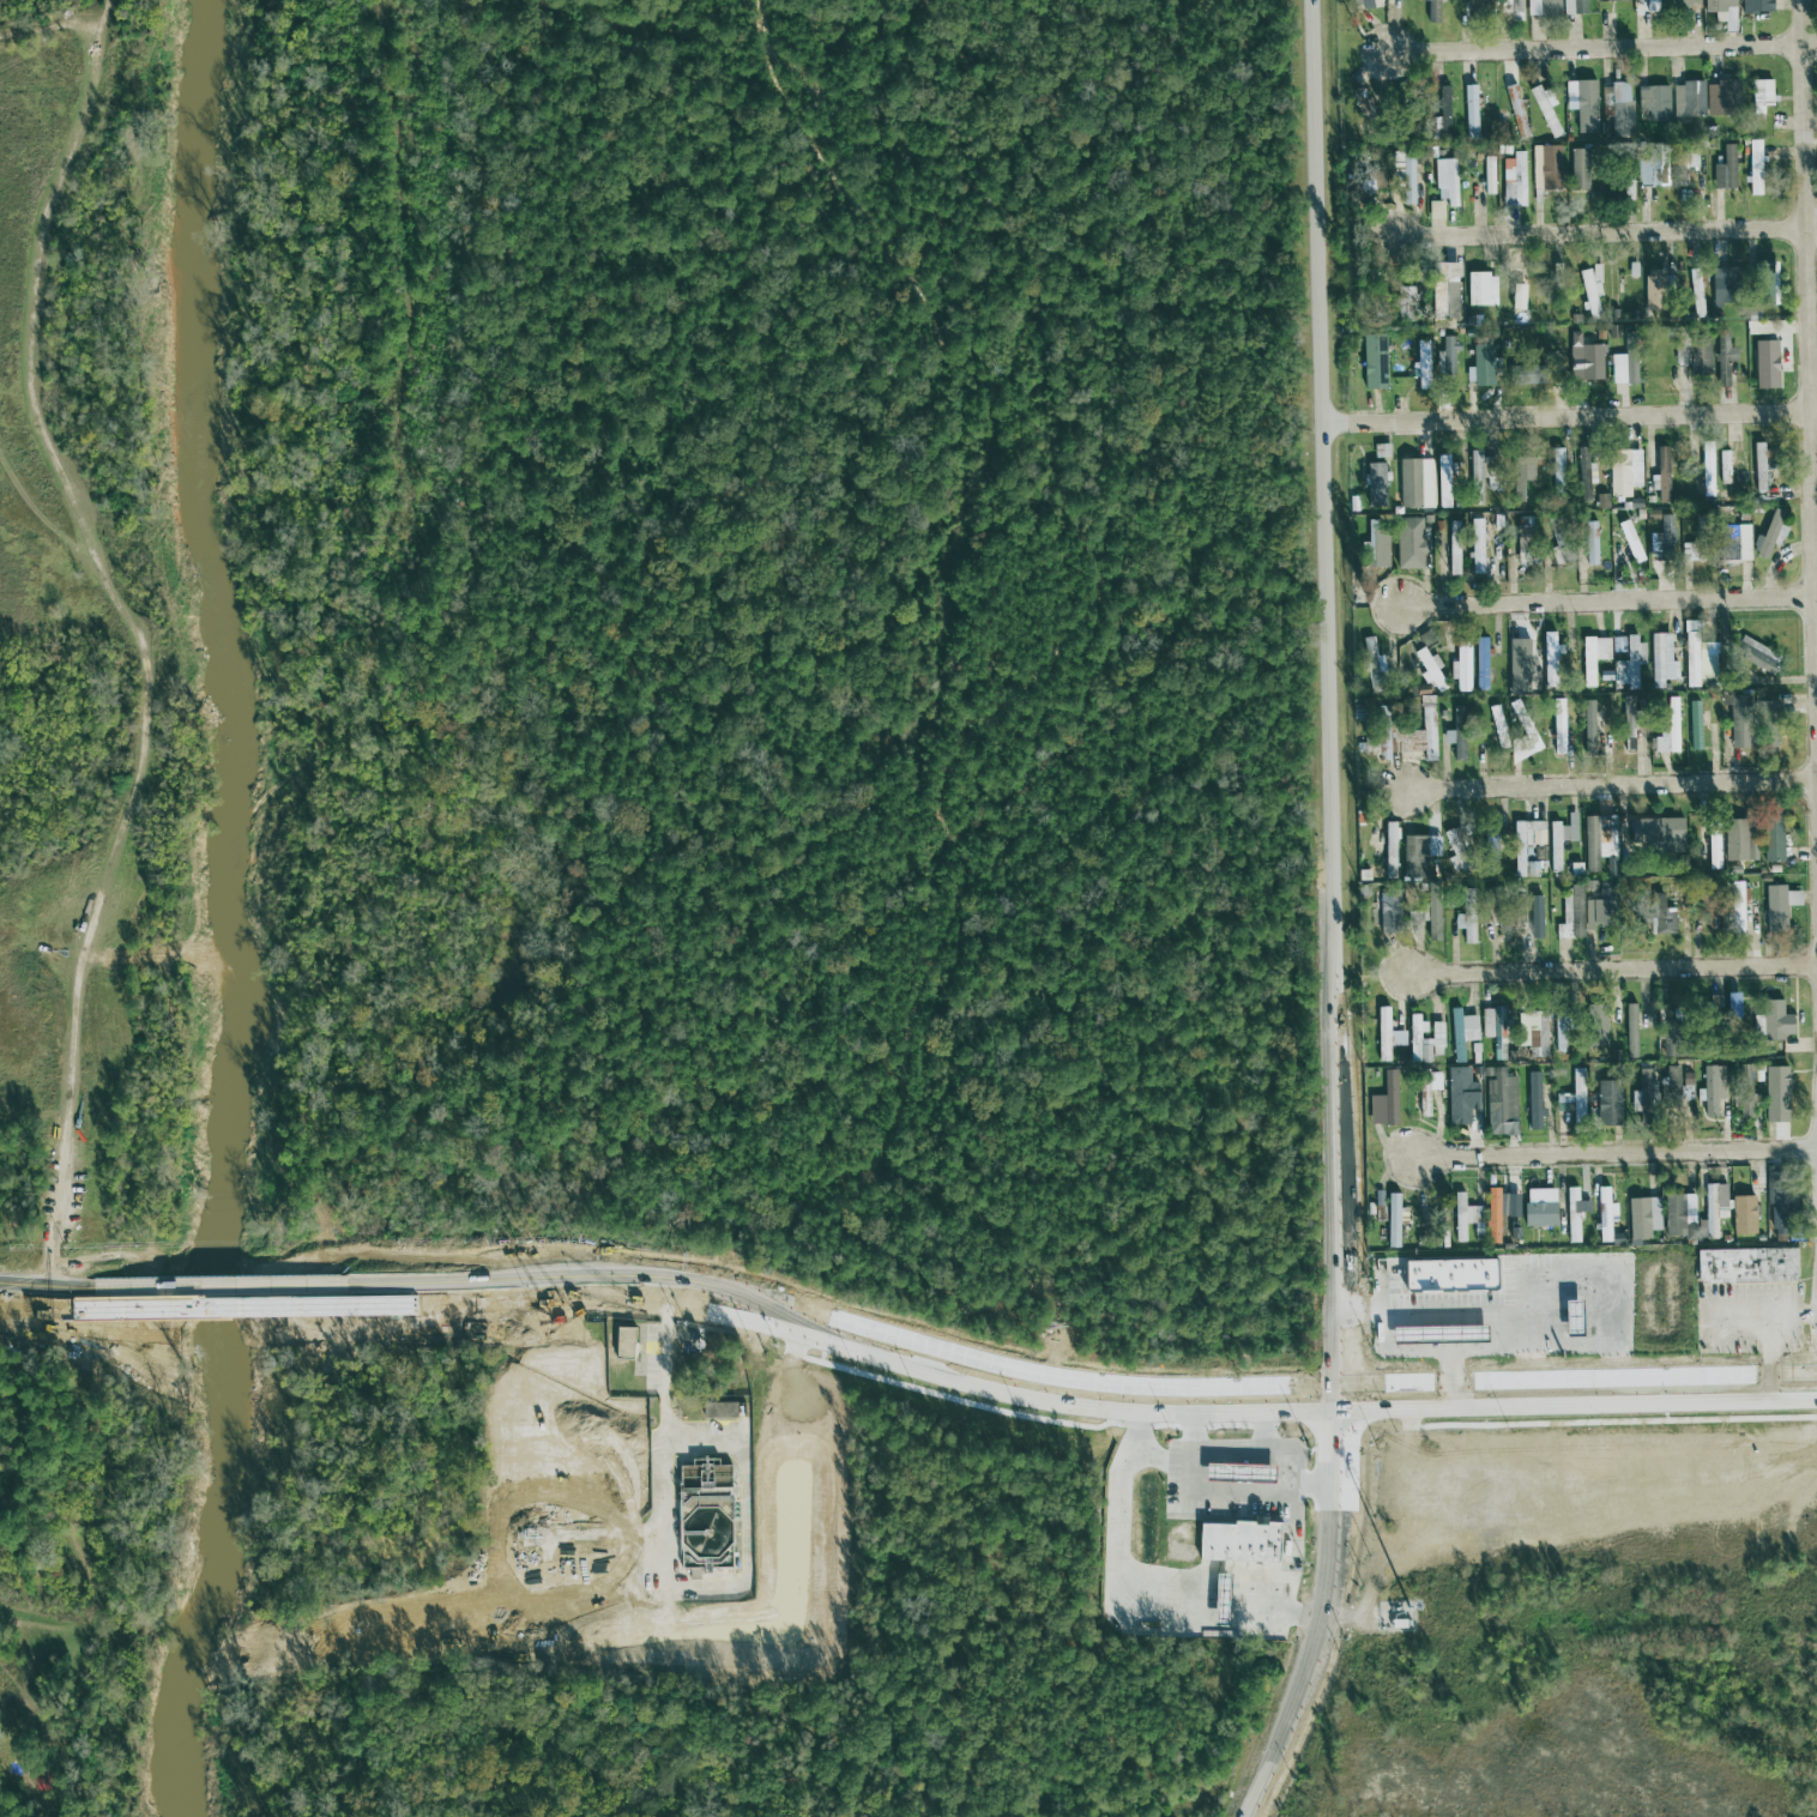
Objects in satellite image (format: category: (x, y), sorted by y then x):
building: (1612, 0)
building: (1759, 1)
building: (1477, 2)
building: (1683, 2)
building: (1365, 4)
building: (1652, 5)
building: (1504, 6)
building: (1574, 6)
building: (1543, 7)
building: (1516, 10)
building: (1431, 11)
building: (1722, 12)
road: (107, 24)
road: (1601, 50)
building: (1761, 95)
building: (1722, 97)
building: (1688, 99)
building: (1654, 102)
building: (1582, 103)
building: (1617, 108)
building: (1444, 109)
building: (1545, 109)
building: (1471, 110)
building: (1684, 164)
building: (1546, 167)
building: (1753, 168)
building: (1578, 169)
building: (1724, 169)
building: (1647, 174)
building: (1406, 175)
building: (1489, 175)
building: (1515, 179)
building: (1445, 181)
building: (1626, 187)
building: (1436, 210)
road: (1607, 233)
building: (1764, 283)
building: (1722, 285)
building: (1480, 289)
building: (1589, 289)
building: (1655, 289)
building: (1442, 290)
building: (1696, 292)
building: (1516, 296)
building: (1405, 303)
road: (32, 315)
road: (1807, 321)
building: (1680, 351)
building: (1445, 356)
building: (1697, 356)
building: (1421, 357)
building: (1583, 358)
building: (1722, 358)
building: (1372, 361)
building: (1764, 364)
building: (1480, 366)
building: (1630, 368)
building: (1617, 369)
building: (1531, 374)
road: (1569, 418)
building: (1381, 451)
building: (1758, 466)
building: (1724, 467)
building: (1443, 469)
building: (1557, 469)
building: (1586, 471)
building: (1624, 471)
building: (1707, 471)
building: (1661, 473)
building: (1475, 477)
building: (1521, 477)
building: (1414, 483)
building: (1375, 484)
building: (1769, 535)
building: (1662, 537)
building: (1408, 543)
building: (1590, 543)
building: (1733, 543)
building: (1475, 545)
building: (1526, 545)
building: (1374, 549)
building: (1558, 555)
building: (1453, 559)
road: (1324, 590)
road: (1610, 602)
building: (1618, 644)
building: (1755, 654)
building: (1592, 657)
building: (1696, 657)
building: (1370, 660)
building: (1661, 660)
building: (1480, 663)
building: (1630, 664)
building: (1461, 666)
building: (1517, 666)
building: (1429, 669)
building: (1695, 718)
building: (1735, 719)
building: (1496, 720)
building: (1588, 724)
building: (1767, 725)
building: (1558, 726)
building: (1426, 728)
building: (1667, 728)
building: (1389, 737)
building: (1454, 742)
road: (1612, 786)
building: (1654, 833)
building: (1559, 840)
building: (1596, 840)
building: (1738, 841)
building: (1771, 841)
building: (1713, 847)
building: (1388, 850)
building: (1455, 851)
building: (1489, 852)
building: (1517, 852)
building: (1417, 855)
building: (1777, 905)
building: (1737, 906)
building: (1388, 911)
river: (212, 912)
building: (1595, 912)
building: (1570, 914)
building: (1534, 917)
building: (1661, 917)
building: (1425, 919)
building: (1466, 926)
road: (90, 934)
road: (1616, 971)
building: (1732, 1004)
building: (1770, 1021)
building: (1595, 1026)
building: (1495, 1030)
building: (1630, 1031)
building: (1461, 1032)
building: (1532, 1032)
building: (1558, 1032)
building: (1383, 1033)
building: (1398, 1038)
building: (1424, 1039)
building: (1665, 1042)
building: (1686, 1086)
building: (1710, 1086)
building: (1668, 1087)
building: (1744, 1091)
building: (1423, 1092)
building: (1641, 1093)
building: (1774, 1094)
building: (1459, 1095)
building: (1572, 1097)
building: (1386, 1099)
building: (1533, 1100)
building: (1499, 1101)
building: (1607, 1103)
road: (1617, 1157)
building: (1779, 1201)
building: (1575, 1202)
building: (1508, 1205)
building: (1538, 1207)
building: (1713, 1208)
building: (1677, 1212)
building: (1605, 1214)
building: (1743, 1214)
building: (1463, 1217)
building: (1492, 1217)
building: (1637, 1219)
building: (1392, 1220)
building: (1572, 1229)
building: (1745, 1266)
building: (1445, 1275)
road: (1344, 1284)
road: (1584, 1285)
road: (221, 1305)
road: (46, 1308)
road: (1764, 1311)
road: (1362, 1316)
building: (1569, 1318)
road: (1465, 1320)
road: (745, 1326)
building: (1436, 1335)
road: (1768, 1342)
building: (621, 1344)
road: (1469, 1352)
traffic signals: (1344, 1356)
road: (1526, 1365)
road: (1444, 1369)
road: (1581, 1380)
traffic signals: (1383, 1386)
road: (1239, 1389)
road: (1345, 1399)
road: (1581, 1404)
building: (717, 1411)
traffic signals: (1297, 1412)
road: (1239, 1413)
traffic signals: (1346, 1439)
road: (705, 1441)
road: (1227, 1448)
road: (1345, 1460)
road: (1159, 1463)
building: (1249, 1472)
road: (1320, 1485)
road: (1257, 1492)
building: (1249, 1541)
road: (704, 1587)
building: (1217, 1599)
building: (1232, 1599)
road: (1122, 1604)
road: (1305, 1667)

